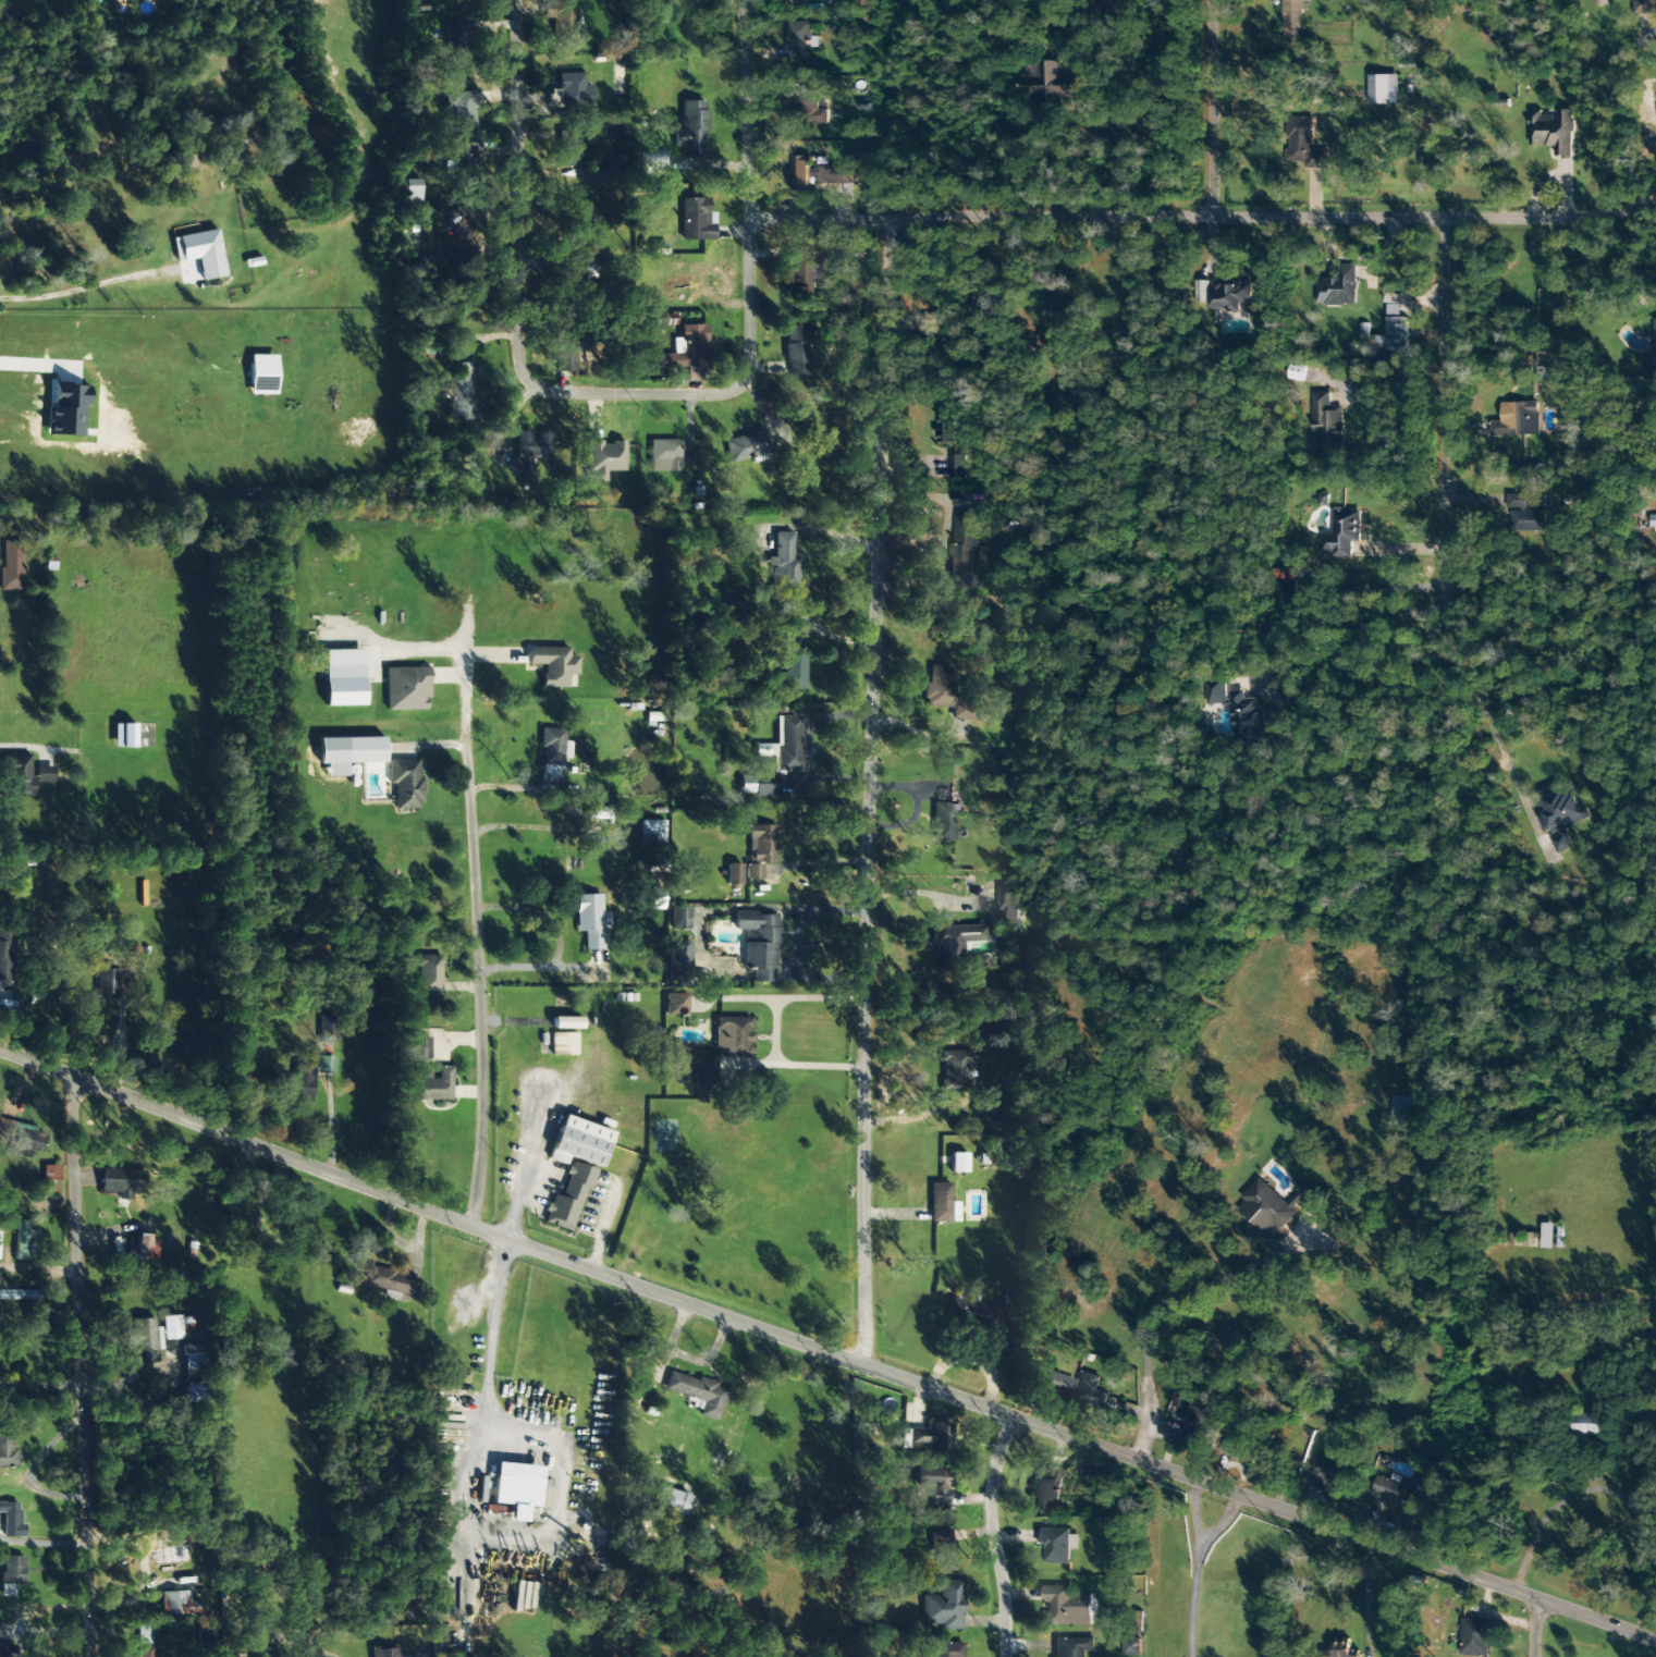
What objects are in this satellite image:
building: (115, 1)
building: (796, 2)
building: (1600, 2)
building: (1644, 7)
building: (1115, 8)
building: (1292, 23)
building: (565, 25)
building: (799, 42)
building: (457, 44)
building: (1051, 85)
building: (1383, 89)
building: (808, 107)
road: (1240, 107)
building: (461, 111)
road: (740, 111)
building: (691, 130)
building: (1551, 132)
building: (1303, 145)
building: (569, 149)
building: (653, 161)
building: (462, 165)
building: (800, 173)
building: (594, 175)
building: (834, 175)
road: (1201, 213)
building: (696, 220)
building: (200, 253)
road: (91, 285)
building: (1338, 289)
building: (1201, 292)
building: (1230, 295)
building: (985, 304)
building: (661, 319)
building: (1394, 331)
building: (685, 349)
building: (796, 351)
building: (1651, 358)
building: (261, 375)
road: (519, 381)
building: (461, 393)
road: (1443, 398)
building: (68, 410)
building: (1517, 420)
building: (1327, 422)
building: (946, 427)
building: (532, 444)
building: (746, 446)
building: (663, 456)
building: (603, 458)
building: (516, 466)
building: (957, 466)
building: (1526, 511)
building: (1341, 533)
building: (965, 551)
building: (783, 563)
building: (11, 565)
building: (1287, 574)
building: (553, 665)
building: (792, 671)
building: (343, 677)
building: (937, 687)
building: (406, 688)
building: (1213, 692)
building: (964, 710)
building: (1244, 719)
building: (123, 735)
building: (788, 745)
building: (552, 747)
building: (351, 750)
building: (20, 773)
building: (44, 774)
building: (405, 784)
building: (757, 785)
road: (873, 790)
building: (597, 813)
building: (1562, 817)
building: (942, 822)
building: (650, 831)
building: (760, 848)
building: (733, 874)
building: (1007, 903)
building: (679, 918)
building: (590, 920)
road: (475, 936)
building: (758, 944)
building: (952, 944)
building: (7, 953)
building: (678, 960)
building: (428, 973)
building: (107, 982)
building: (674, 1004)
building: (566, 1022)
building: (328, 1030)
road: (775, 1032)
building: (563, 1044)
building: (420, 1047)
building: (723, 1048)
building: (683, 1050)
building: (326, 1065)
building: (956, 1069)
building: (299, 1082)
building: (429, 1084)
building: (983, 1106)
building: (1401, 1112)
building: (25, 1141)
building: (579, 1142)
building: (957, 1163)
building: (50, 1173)
building: (120, 1182)
building: (568, 1196)
building: (941, 1203)
building: (1278, 1206)
building: (243, 1216)
building: (1548, 1236)
building: (22, 1239)
building: (1522, 1239)
building: (142, 1248)
building: (389, 1281)
road: (1154, 1303)
building: (970, 1310)
building: (170, 1327)
building: (146, 1340)
road: (824, 1353)
road: (53, 1362)
building: (1052, 1383)
building: (1089, 1390)
building: (697, 1394)
building: (1592, 1421)
building: (1199, 1423)
building: (930, 1437)
building: (7, 1451)
building: (1267, 1458)
building: (1329, 1469)
building: (1099, 1474)
building: (933, 1484)
building: (1046, 1489)
building: (515, 1492)
building: (1394, 1492)
building: (671, 1500)
building: (11, 1520)
road: (990, 1534)
building: (160, 1542)
building: (1056, 1545)
building: (941, 1550)
building: (11, 1574)
building: (181, 1604)
building: (943, 1607)
building: (1067, 1607)
road: (1524, 1625)
building: (1474, 1637)
building: (260, 1638)
building: (146, 1642)
building: (1072, 1647)
building: (1131, 1647)
building: (947, 1649)
building: (7, 1650)
building: (1341, 1650)
building: (383, 1652)

